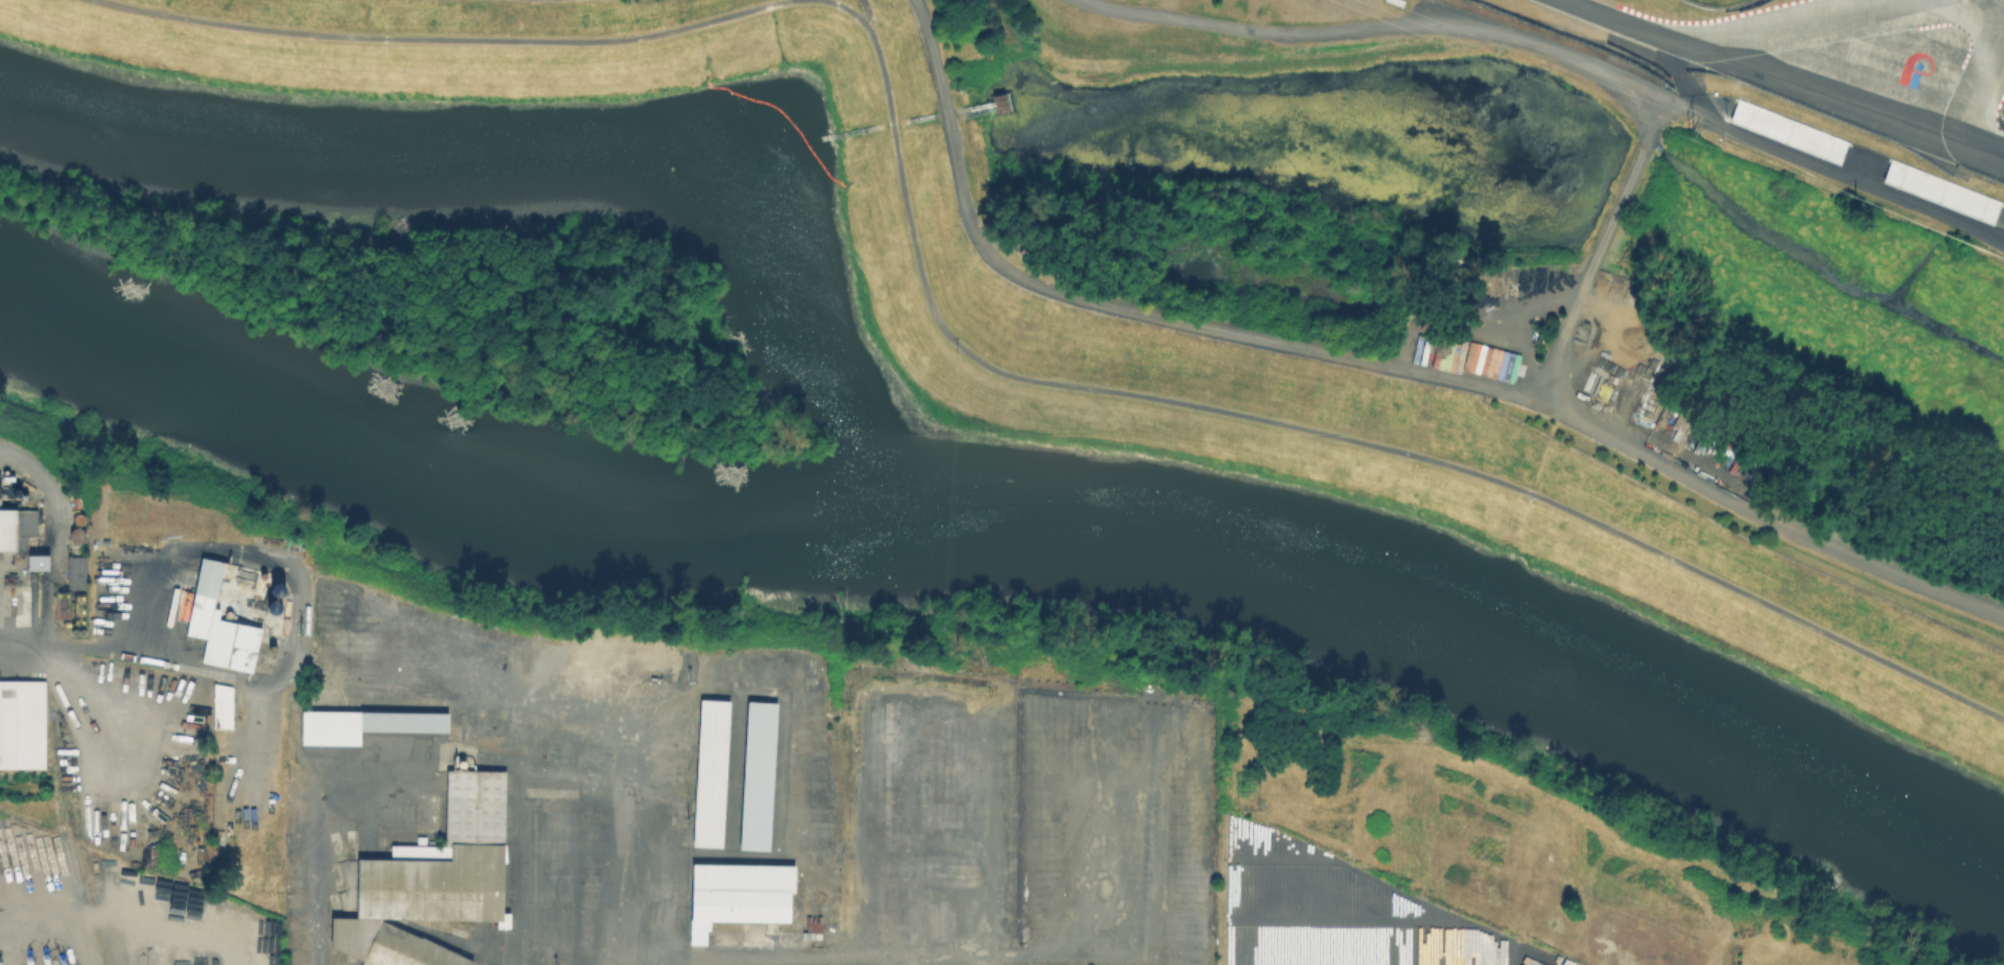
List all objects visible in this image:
park: (538, 1)
raceway: (1785, 24)
road: (445, 39)
road: (1564, 50)
stadium: (1676, 76)
road: (1686, 83)
raceway: (1782, 85)
raceway: (1975, 86)
building: (999, 102)
road: (1595, 249)
park: (1081, 323)
road: (1379, 367)
road: (1310, 429)
building: (7, 528)
building: (36, 561)
building: (75, 571)
building: (68, 605)
building: (218, 623)
road: (94, 646)
building: (597, 659)
building: (226, 709)
building: (360, 722)
building: (22, 726)
building: (709, 770)
building: (757, 774)
building: (425, 812)
railway: (71, 833)
building: (435, 883)
road: (583, 894)
building: (736, 894)

